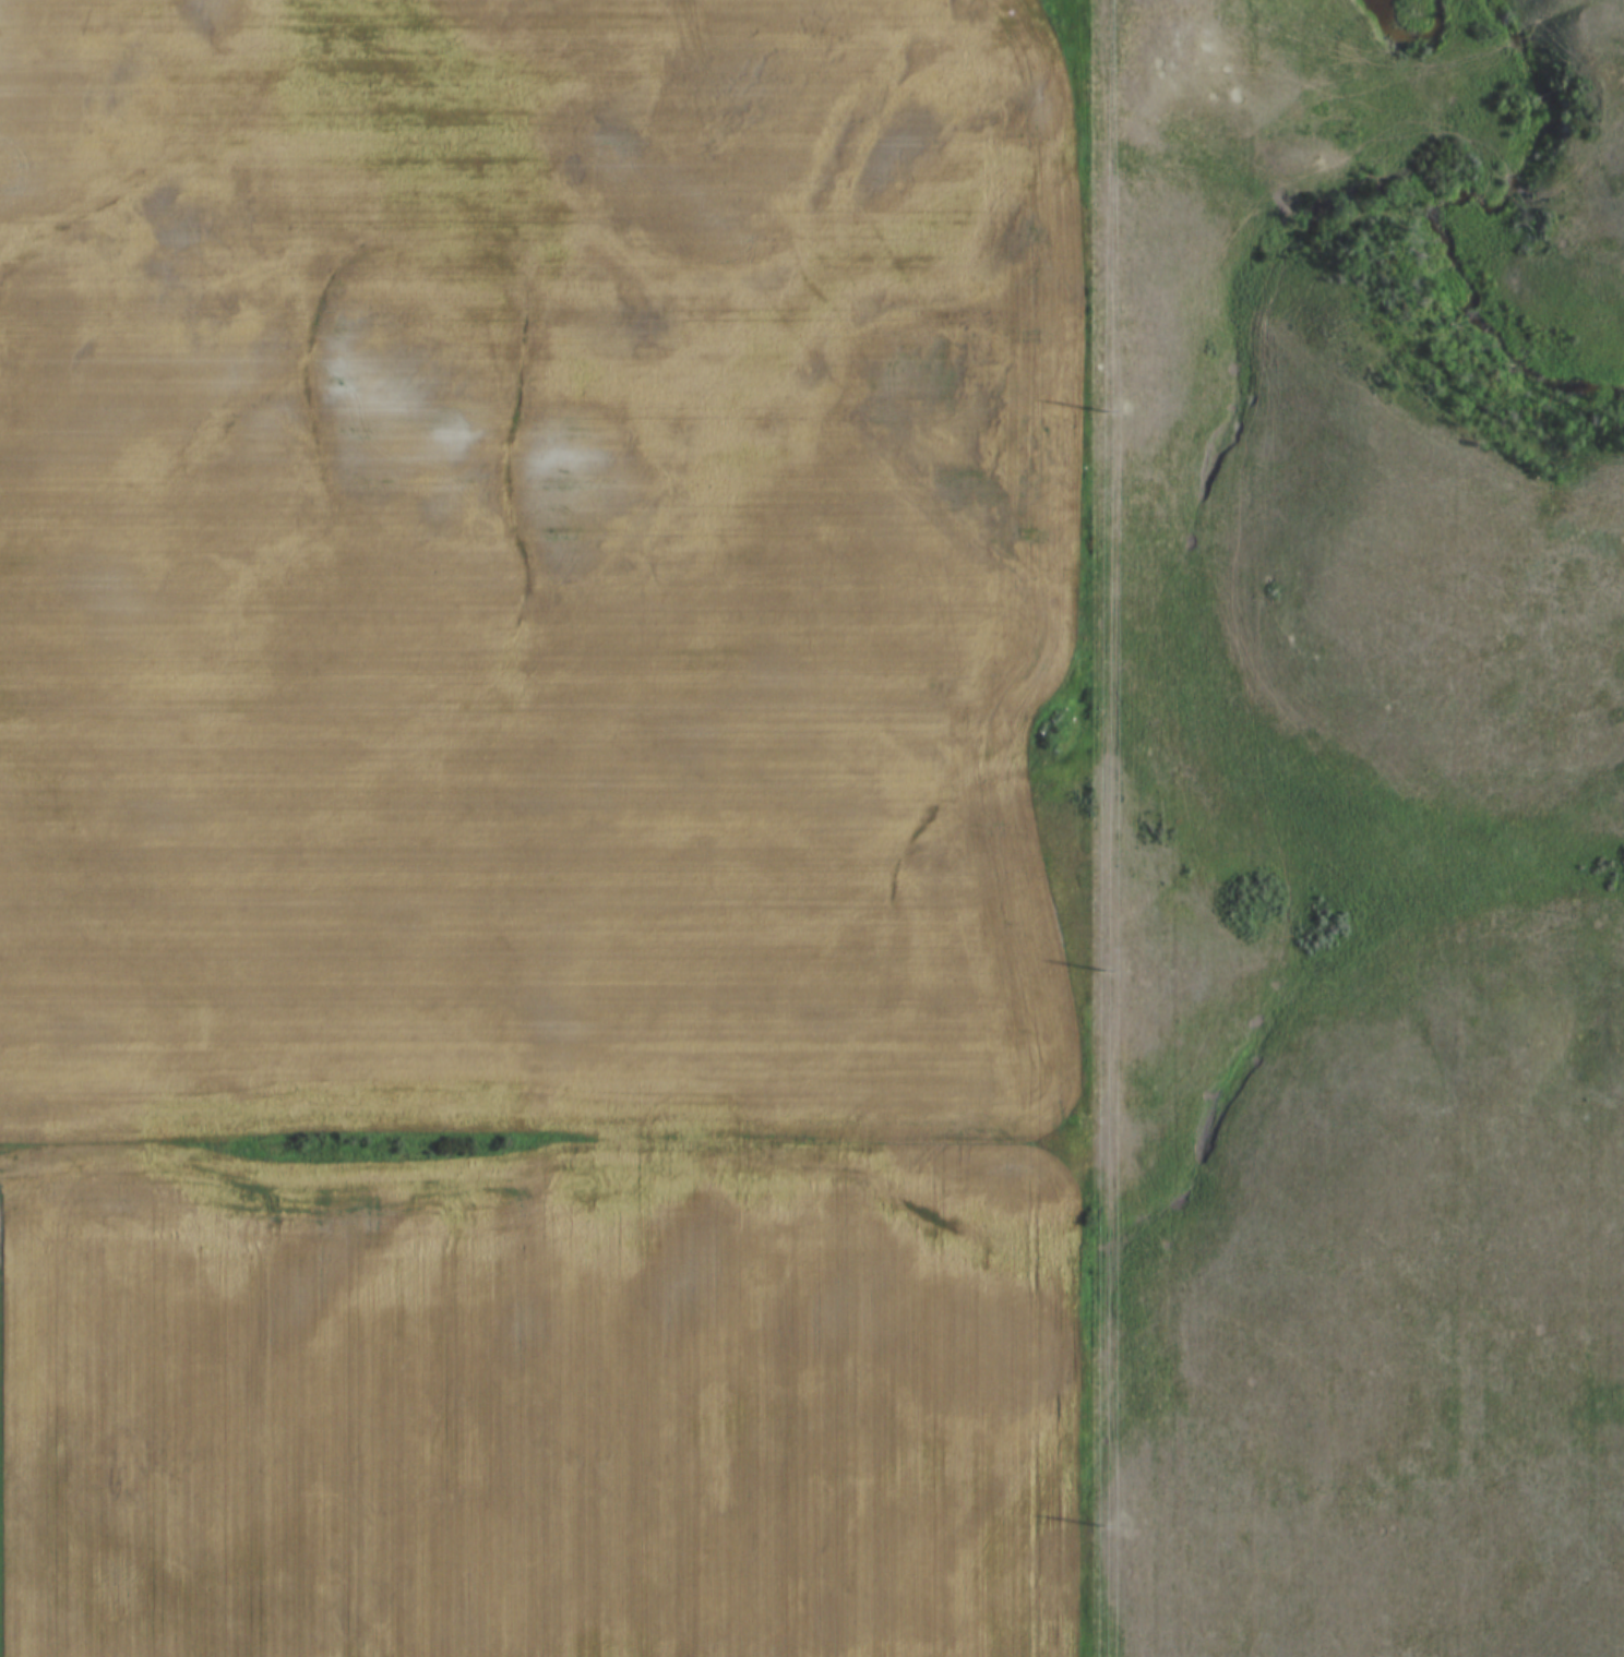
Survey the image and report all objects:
road: (97, 1137)

